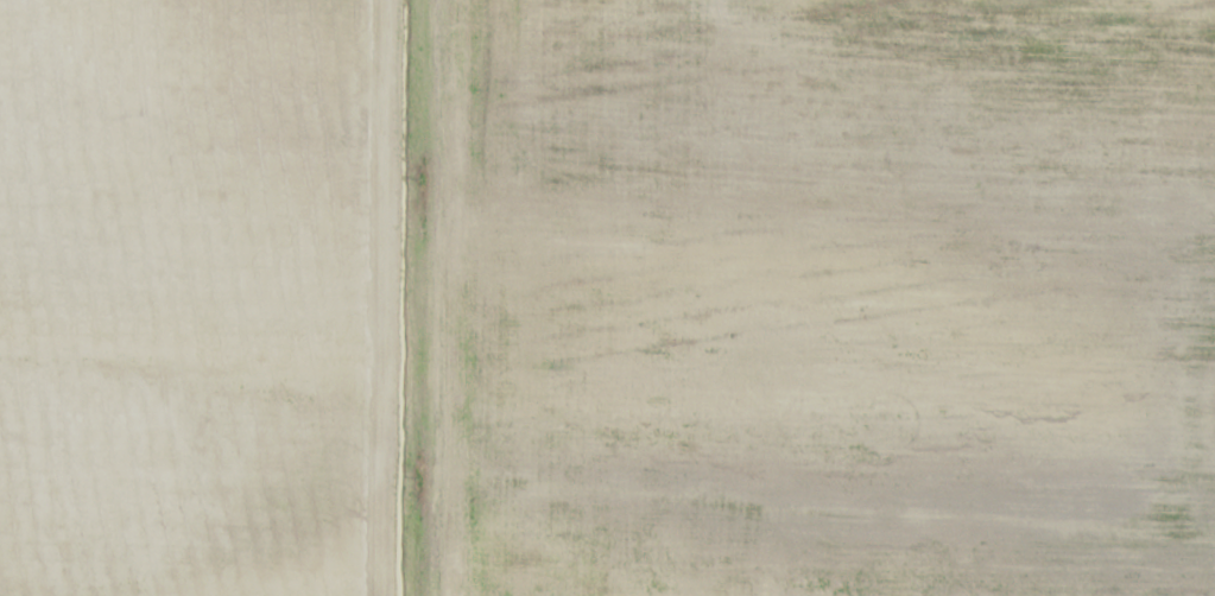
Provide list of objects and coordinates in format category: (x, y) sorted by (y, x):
road: (429, 298)

